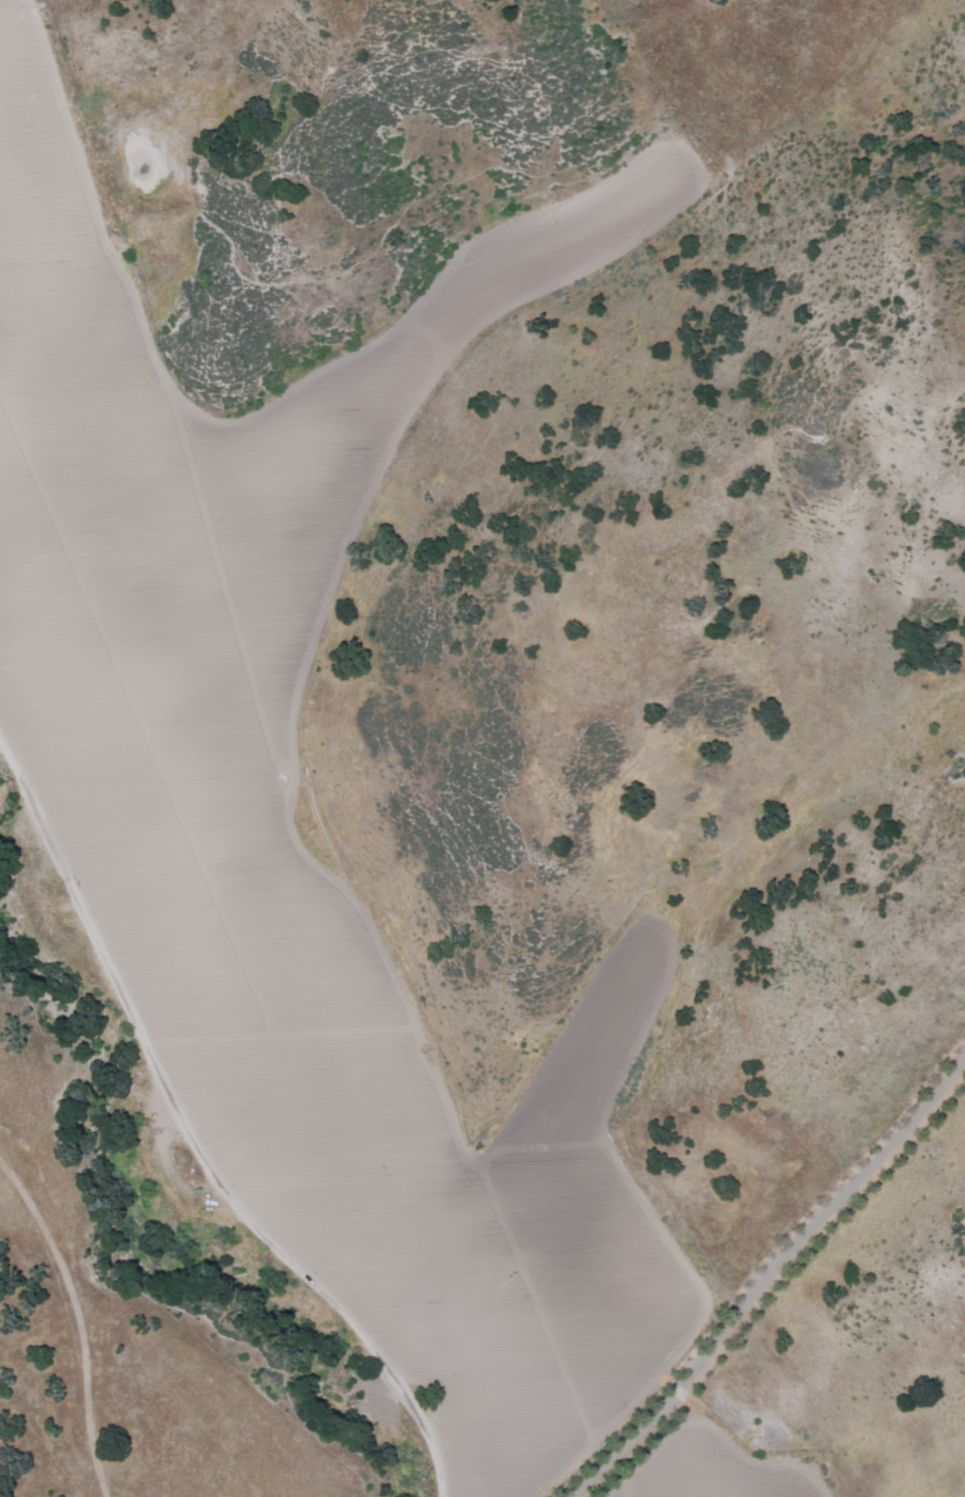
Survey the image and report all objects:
crop: (159, 734)
road: (191, 1137)
road: (749, 1365)
road: (99, 1482)

